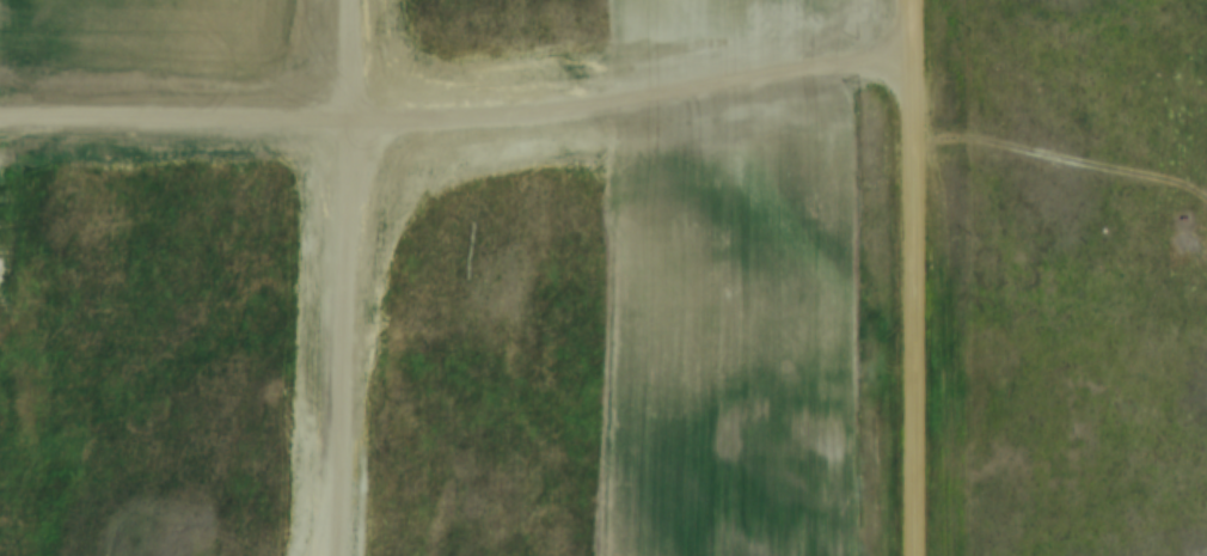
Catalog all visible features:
road: (457, 98)
road: (326, 277)
road: (914, 277)

